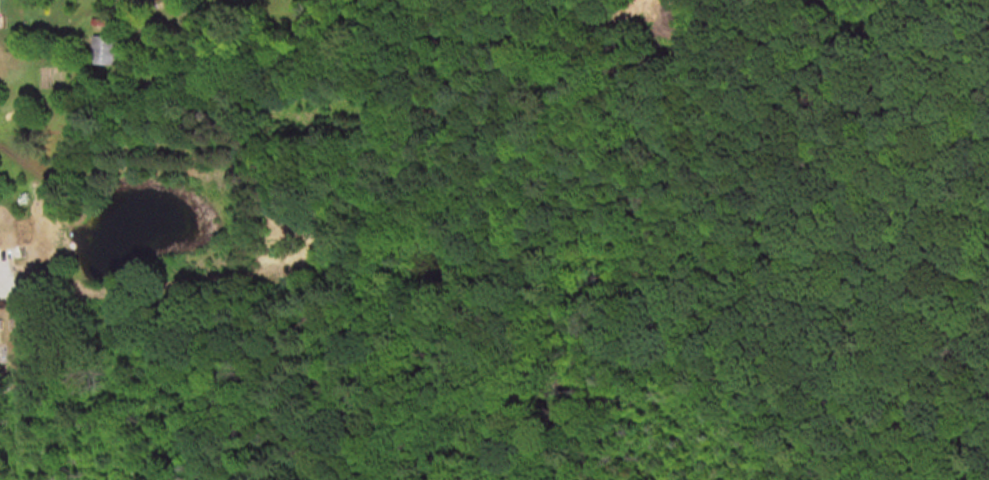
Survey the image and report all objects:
park: (892, 214)

